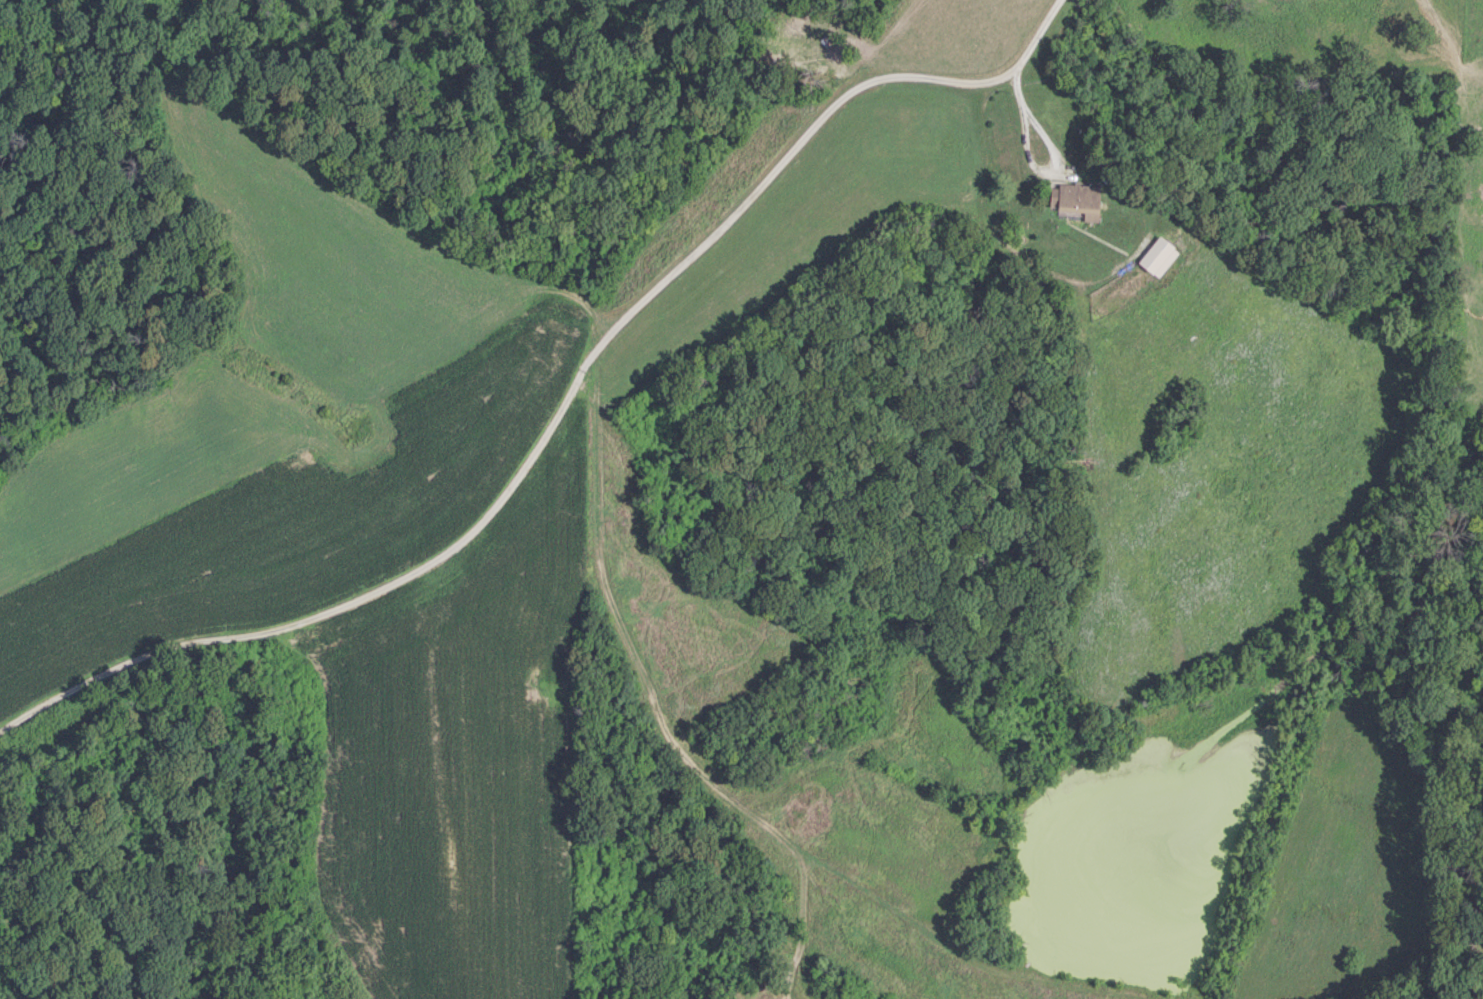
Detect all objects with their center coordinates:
road: (1031, 162)
building: (1408, 186)
building: (1075, 200)
building: (1154, 258)
road: (559, 400)

